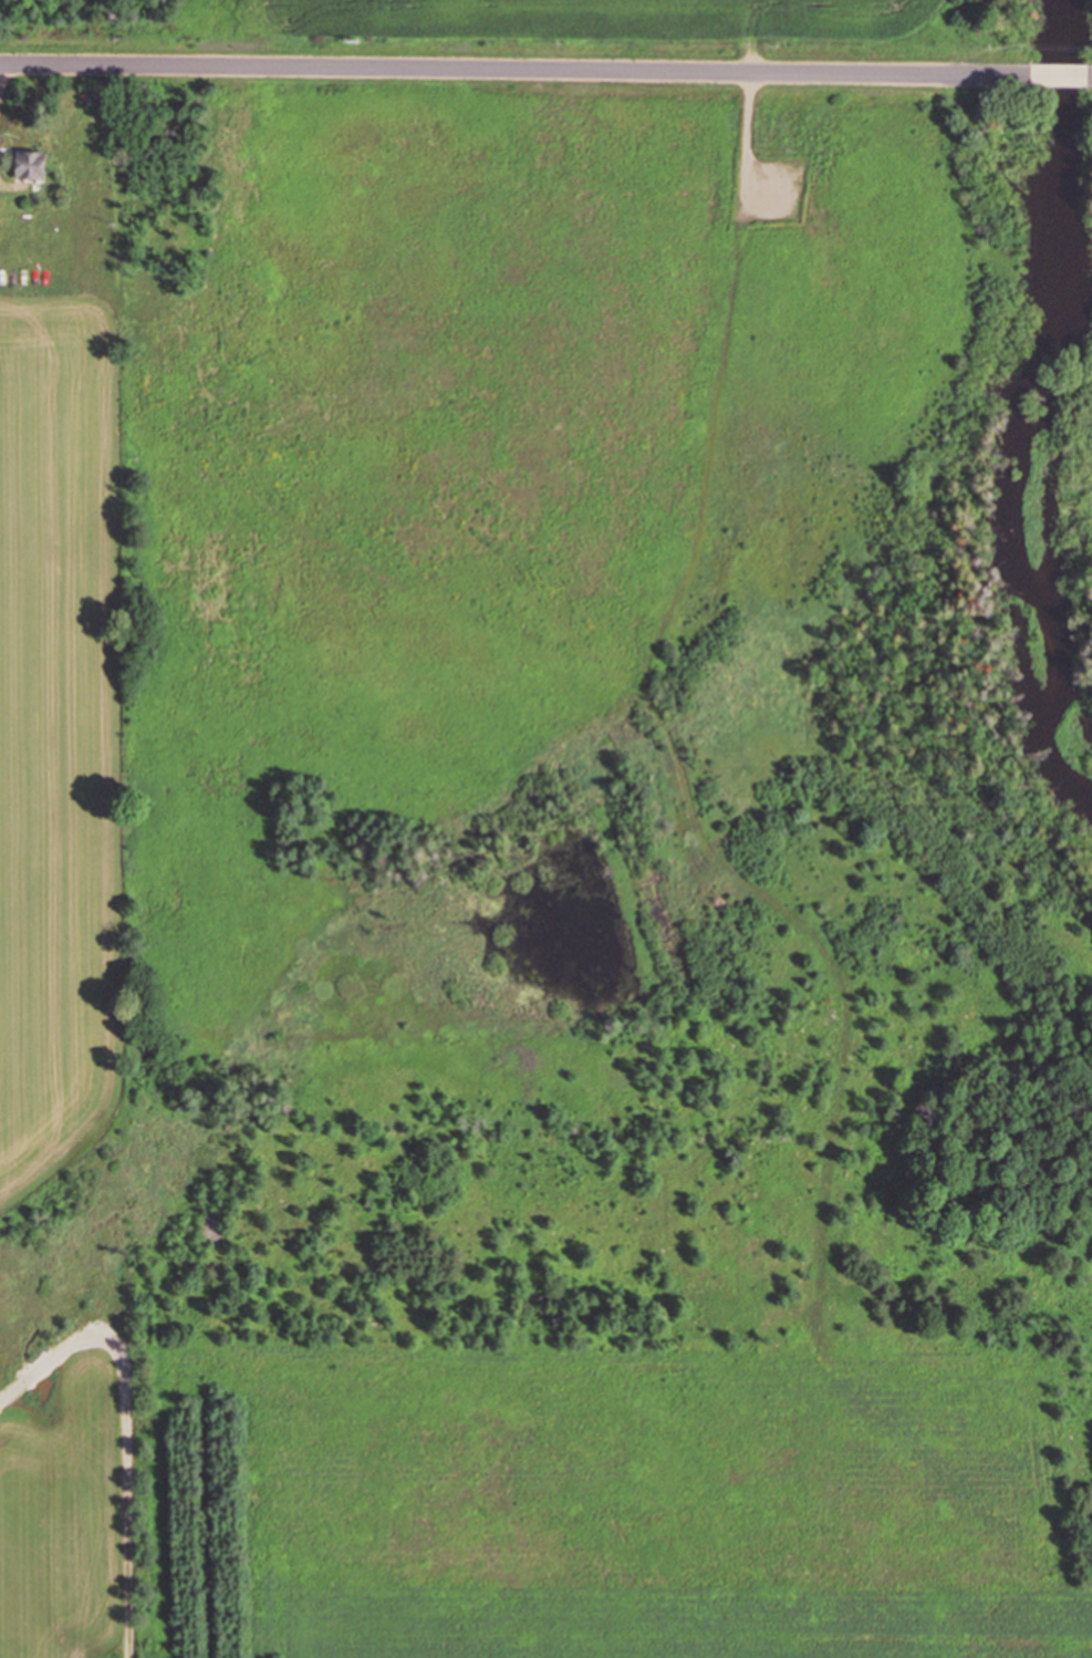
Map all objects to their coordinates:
quarry: (612, 29)
road: (513, 69)
road: (1058, 73)
road: (1090, 73)
building: (28, 164)
river: (1022, 423)

